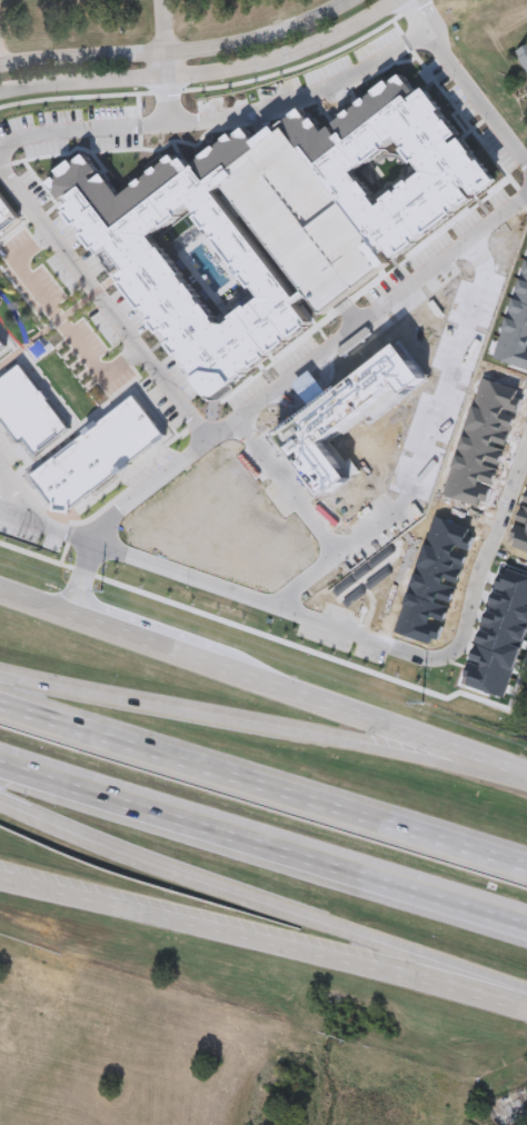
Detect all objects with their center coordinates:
road: (165, 27)
road: (181, 51)
building: (523, 59)
road: (0, 64)
road: (170, 64)
road: (210, 71)
road: (469, 83)
road: (307, 89)
road: (109, 125)
building: (4, 216)
building: (296, 226)
parking garage: (296, 226)
building: (152, 229)
road: (105, 303)
road: (62, 312)
building: (1, 346)
park: (44, 354)
road: (308, 368)
road: (437, 410)
building: (28, 411)
building: (351, 420)
building: (96, 457)
road: (12, 491)
road: (310, 518)
road: (80, 580)
road: (36, 606)
road: (330, 630)
road: (153, 647)
road: (366, 720)
road: (248, 726)
road: (511, 771)
road: (263, 792)
road: (262, 858)
road: (220, 897)
road: (263, 945)

